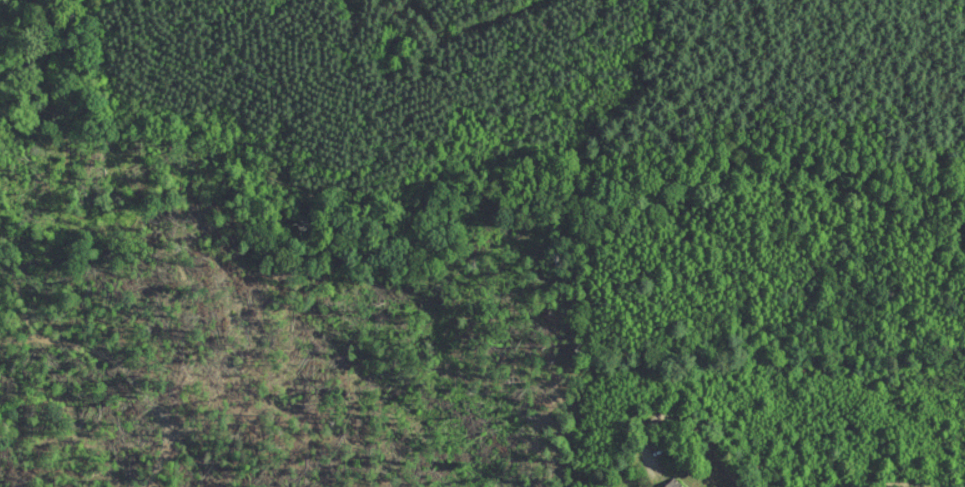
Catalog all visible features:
road: (902, 341)
building: (658, 481)

